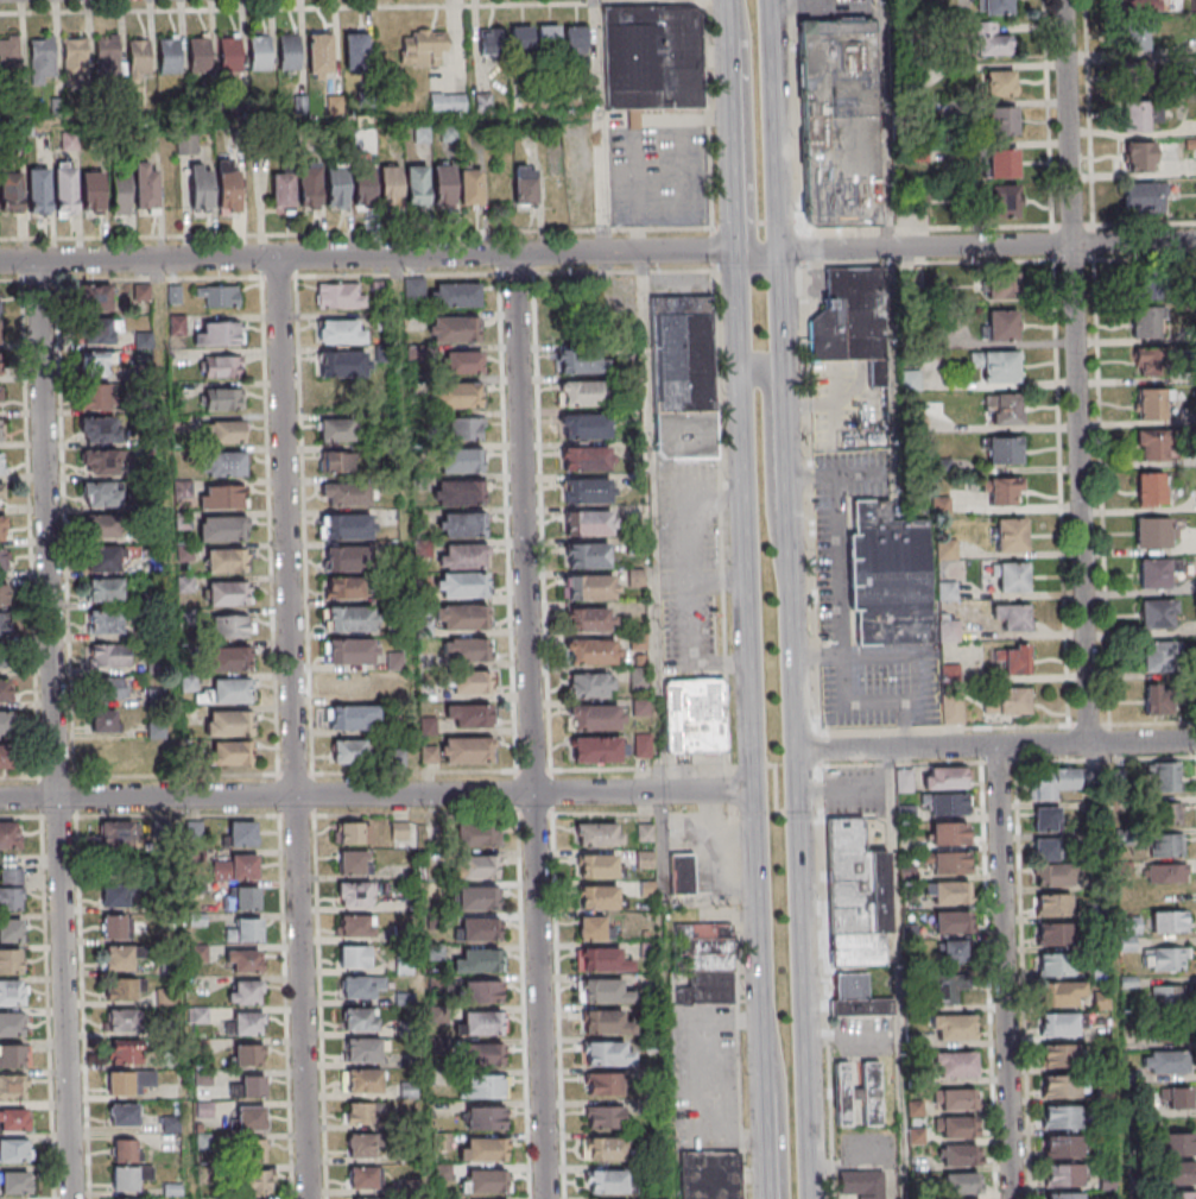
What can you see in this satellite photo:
road: (796, 2)
road: (267, 5)
building: (1135, 5)
building: (996, 7)
parking lot: (834, 8)
building: (520, 34)
building: (549, 36)
building: (1135, 36)
building: (988, 39)
building: (575, 40)
building: (488, 42)
building: (424, 48)
building: (355, 51)
building: (10, 52)
building: (289, 52)
building: (169, 53)
building: (198, 53)
building: (229, 53)
building: (259, 53)
building: (107, 55)
building: (138, 56)
building: (319, 56)
building: (42, 57)
building: (650, 57)
building: (75, 59)
building: (1137, 74)
building: (1000, 83)
building: (448, 102)
road: (705, 112)
road: (792, 115)
building: (1134, 115)
building: (1002, 120)
road: (1067, 121)
building: (836, 124)
road: (881, 124)
road: (597, 125)
road: (745, 139)
building: (186, 144)
building: (1139, 156)
building: (1002, 163)
parking lot: (656, 173)
building: (390, 184)
building: (417, 184)
building: (444, 184)
building: (200, 187)
building: (227, 187)
building: (308, 187)
building: (335, 187)
building: (362, 187)
building: (470, 187)
building: (525, 187)
building: (65, 189)
building: (146, 189)
building: (39, 190)
building: (11, 191)
building: (91, 191)
building: (281, 191)
building: (120, 195)
building: (1143, 196)
building: (1002, 198)
road: (752, 221)
road: (1071, 223)
road: (354, 231)
road: (1091, 241)
road: (1052, 242)
road: (710, 246)
road: (802, 246)
road: (985, 246)
road: (367, 257)
road: (1074, 259)
road: (928, 263)
road: (622, 271)
parking lot: (677, 285)
building: (1002, 285)
building: (416, 289)
building: (141, 292)
building: (219, 295)
building: (457, 295)
building: (338, 296)
building: (1158, 302)
building: (584, 303)
building: (97, 314)
building: (852, 320)
building: (1001, 324)
building: (454, 329)
building: (340, 332)
building: (217, 333)
building: (583, 360)
building: (1146, 361)
building: (464, 362)
building: (99, 364)
building: (342, 364)
building: (996, 365)
building: (221, 366)
building: (682, 378)
building: (0, 393)
building: (582, 393)
building: (97, 395)
building: (456, 395)
building: (222, 398)
parking lot: (843, 402)
building: (1152, 403)
building: (1004, 409)
building: (586, 425)
building: (464, 428)
building: (100, 429)
building: (226, 431)
building: (337, 431)
building: (1150, 444)
building: (1004, 449)
building: (586, 457)
building: (461, 461)
building: (336, 462)
building: (0, 463)
building: (100, 463)
building: (224, 463)
road: (767, 472)
building: (0, 488)
building: (1150, 488)
building: (1002, 490)
building: (587, 491)
building: (458, 492)
road: (1061, 492)
road: (1078, 493)
building: (101, 494)
building: (346, 496)
building: (221, 497)
road: (720, 518)
road: (542, 520)
building: (460, 524)
building: (588, 524)
building: (108, 526)
building: (346, 528)
building: (2, 529)
building: (221, 529)
building: (1152, 532)
building: (1010, 535)
building: (462, 556)
building: (587, 557)
building: (348, 559)
building: (103, 560)
building: (226, 560)
parking lot: (689, 566)
parking lot: (833, 569)
building: (1153, 573)
road: (651, 576)
building: (888, 576)
building: (1011, 576)
building: (462, 585)
building: (346, 588)
building: (588, 588)
building: (105, 589)
building: (228, 592)
road: (746, 599)
road: (786, 599)
building: (1157, 613)
building: (1012, 616)
building: (462, 617)
building: (350, 618)
building: (105, 620)
building: (589, 620)
building: (230, 625)
building: (949, 631)
building: (467, 650)
building: (350, 651)
building: (591, 652)
building: (109, 655)
building: (1157, 655)
building: (229, 657)
building: (1011, 658)
building: (638, 677)
building: (470, 682)
building: (352, 684)
building: (589, 686)
building: (107, 688)
building: (5, 690)
building: (227, 690)
building: (1157, 699)
building: (1007, 701)
building: (640, 708)
building: (468, 715)
building: (695, 715)
building: (353, 717)
building: (594, 719)
building: (103, 721)
building: (4, 722)
building: (228, 722)
road: (530, 726)
road: (943, 727)
road: (290, 728)
road: (51, 730)
road: (817, 732)
road: (1141, 743)
building: (643, 745)
road: (1040, 745)
building: (467, 750)
building: (597, 750)
road: (893, 750)
building: (347, 751)
building: (229, 752)
building: (4, 756)
road: (899, 763)
road: (749, 765)
road: (639, 768)
building: (1163, 776)
building: (943, 777)
building: (903, 778)
building: (1052, 782)
road: (772, 789)
parking lot: (853, 789)
road: (376, 795)
building: (947, 803)
road: (796, 812)
building: (1165, 812)
road: (641, 813)
building: (1046, 818)
building: (399, 829)
building: (352, 832)
building: (644, 832)
building: (116, 833)
building: (242, 833)
building: (597, 833)
building: (948, 833)
building: (8, 834)
building: (479, 834)
building: (1166, 844)
building: (1046, 848)
parking lot: (704, 856)
building: (353, 862)
building: (947, 862)
building: (595, 865)
building: (477, 866)
building: (238, 867)
building: (1167, 872)
building: (682, 873)
building: (1052, 873)
building: (11, 888)
building: (114, 892)
building: (949, 892)
building: (354, 895)
building: (856, 895)
building: (597, 896)
building: (241, 897)
building: (476, 898)
building: (1053, 904)
building: (1169, 920)
building: (950, 922)
building: (113, 926)
building: (354, 926)
building: (590, 927)
building: (10, 929)
building: (245, 929)
building: (480, 929)
building: (1053, 934)
building: (646, 949)
building: (951, 951)
building: (354, 955)
building: (120, 957)
building: (601, 959)
building: (1164, 959)
building: (10, 960)
building: (242, 960)
building: (479, 960)
building: (702, 963)
building: (1055, 964)
road: (1113, 971)
road: (1004, 972)
road: (894, 973)
building: (361, 986)
building: (120, 989)
building: (12, 991)
building: (245, 991)
building: (480, 991)
building: (606, 991)
building: (1061, 992)
building: (165, 996)
building: (856, 996)
building: (1166, 997)
road: (557, 1005)
road: (736, 1005)
building: (359, 1018)
building: (121, 1021)
building: (606, 1022)
building: (11, 1023)
building: (247, 1023)
building: (481, 1023)
building: (1059, 1023)
building: (953, 1027)
parking lot: (862, 1034)
building: (362, 1049)
building: (124, 1052)
building: (607, 1053)
building: (246, 1054)
building: (483, 1054)
building: (13, 1055)
building: (1058, 1055)
building: (1164, 1062)
building: (955, 1064)
building: (146, 1078)
parking lot: (702, 1078)
building: (361, 1080)
building: (120, 1081)
building: (602, 1083)
building: (486, 1085)
building: (12, 1086)
building: (249, 1086)
building: (1059, 1086)
building: (869, 1087)
building: (407, 1090)
building: (842, 1093)
building: (955, 1099)
building: (1178, 1100)
road: (779, 1102)
building: (363, 1111)
building: (122, 1113)
building: (605, 1116)
building: (1059, 1116)
building: (251, 1117)
building: (485, 1117)
building: (13, 1118)
building: (957, 1127)
building: (1179, 1143)
building: (360, 1146)
building: (1062, 1146)
building: (483, 1148)
building: (602, 1148)
building: (14, 1149)
building: (124, 1149)
building: (253, 1150)
parking lot: (865, 1153)
building: (957, 1155)
building: (1178, 1172)
building: (708, 1174)
building: (1061, 1174)
building: (362, 1176)
building: (125, 1178)
building: (257, 1179)
building: (14, 1181)
building: (485, 1181)
building: (606, 1181)
building: (962, 1182)
building: (862, 1184)
building: (1182, 1194)
building: (1064, 1195)

